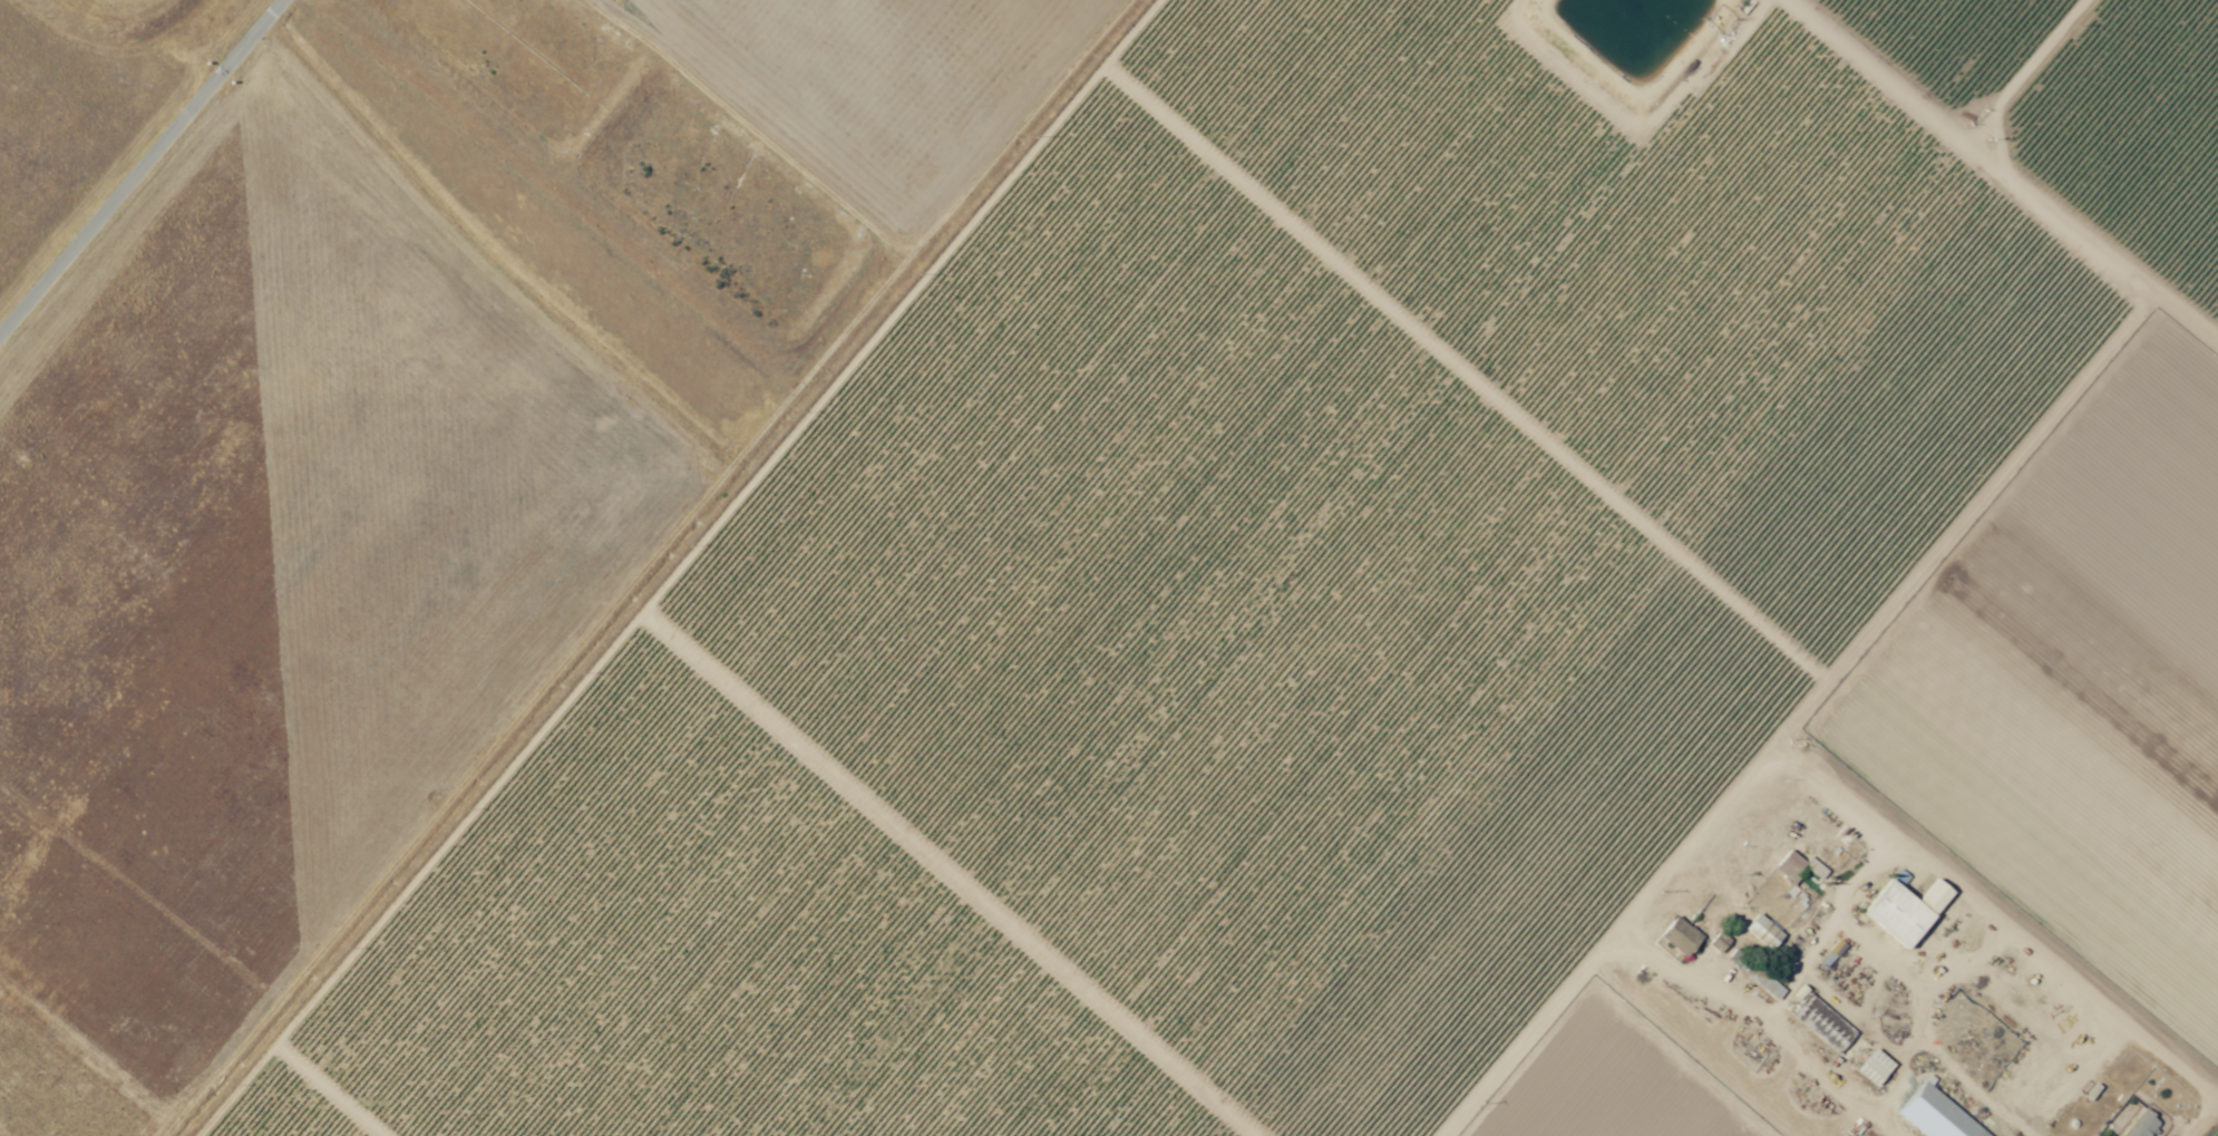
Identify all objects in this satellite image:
road: (2026, 70)
road: (1632, 109)
road: (140, 166)
road: (2003, 171)
road: (1469, 376)
road: (636, 567)
road: (678, 567)
crop: (1423, 627)
road: (1808, 717)
building: (1799, 868)
road: (949, 874)
building: (1904, 911)
road: (2005, 915)
building: (1763, 932)
building: (1680, 936)
building: (1768, 984)
building: (1822, 1023)
building: (1875, 1070)
road: (333, 1088)
wastewater plant: (47, 1091)
building: (1935, 1116)
building: (2142, 1125)
wastewater plant: (3, 1133)

